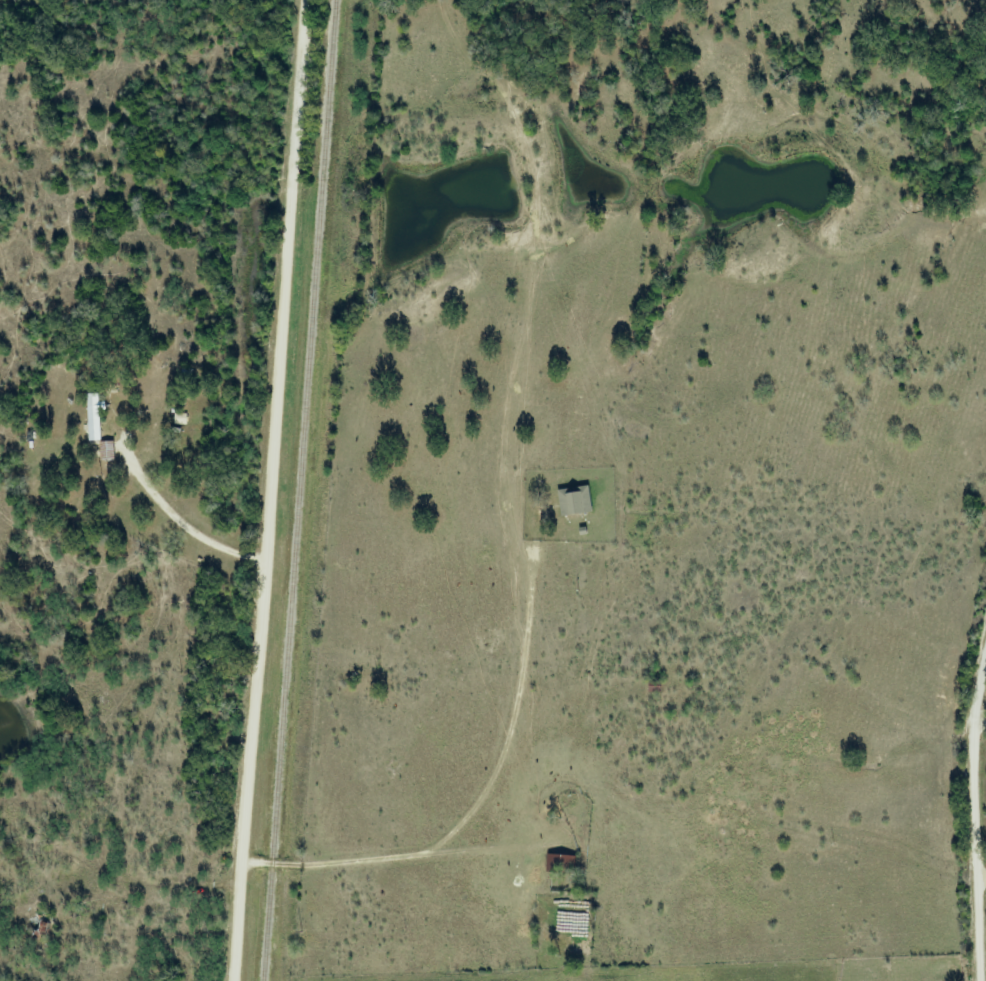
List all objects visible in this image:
building: (98, 416)
road: (267, 490)
railway: (301, 490)
building: (578, 501)
road: (974, 813)
road: (337, 863)
building: (564, 863)

